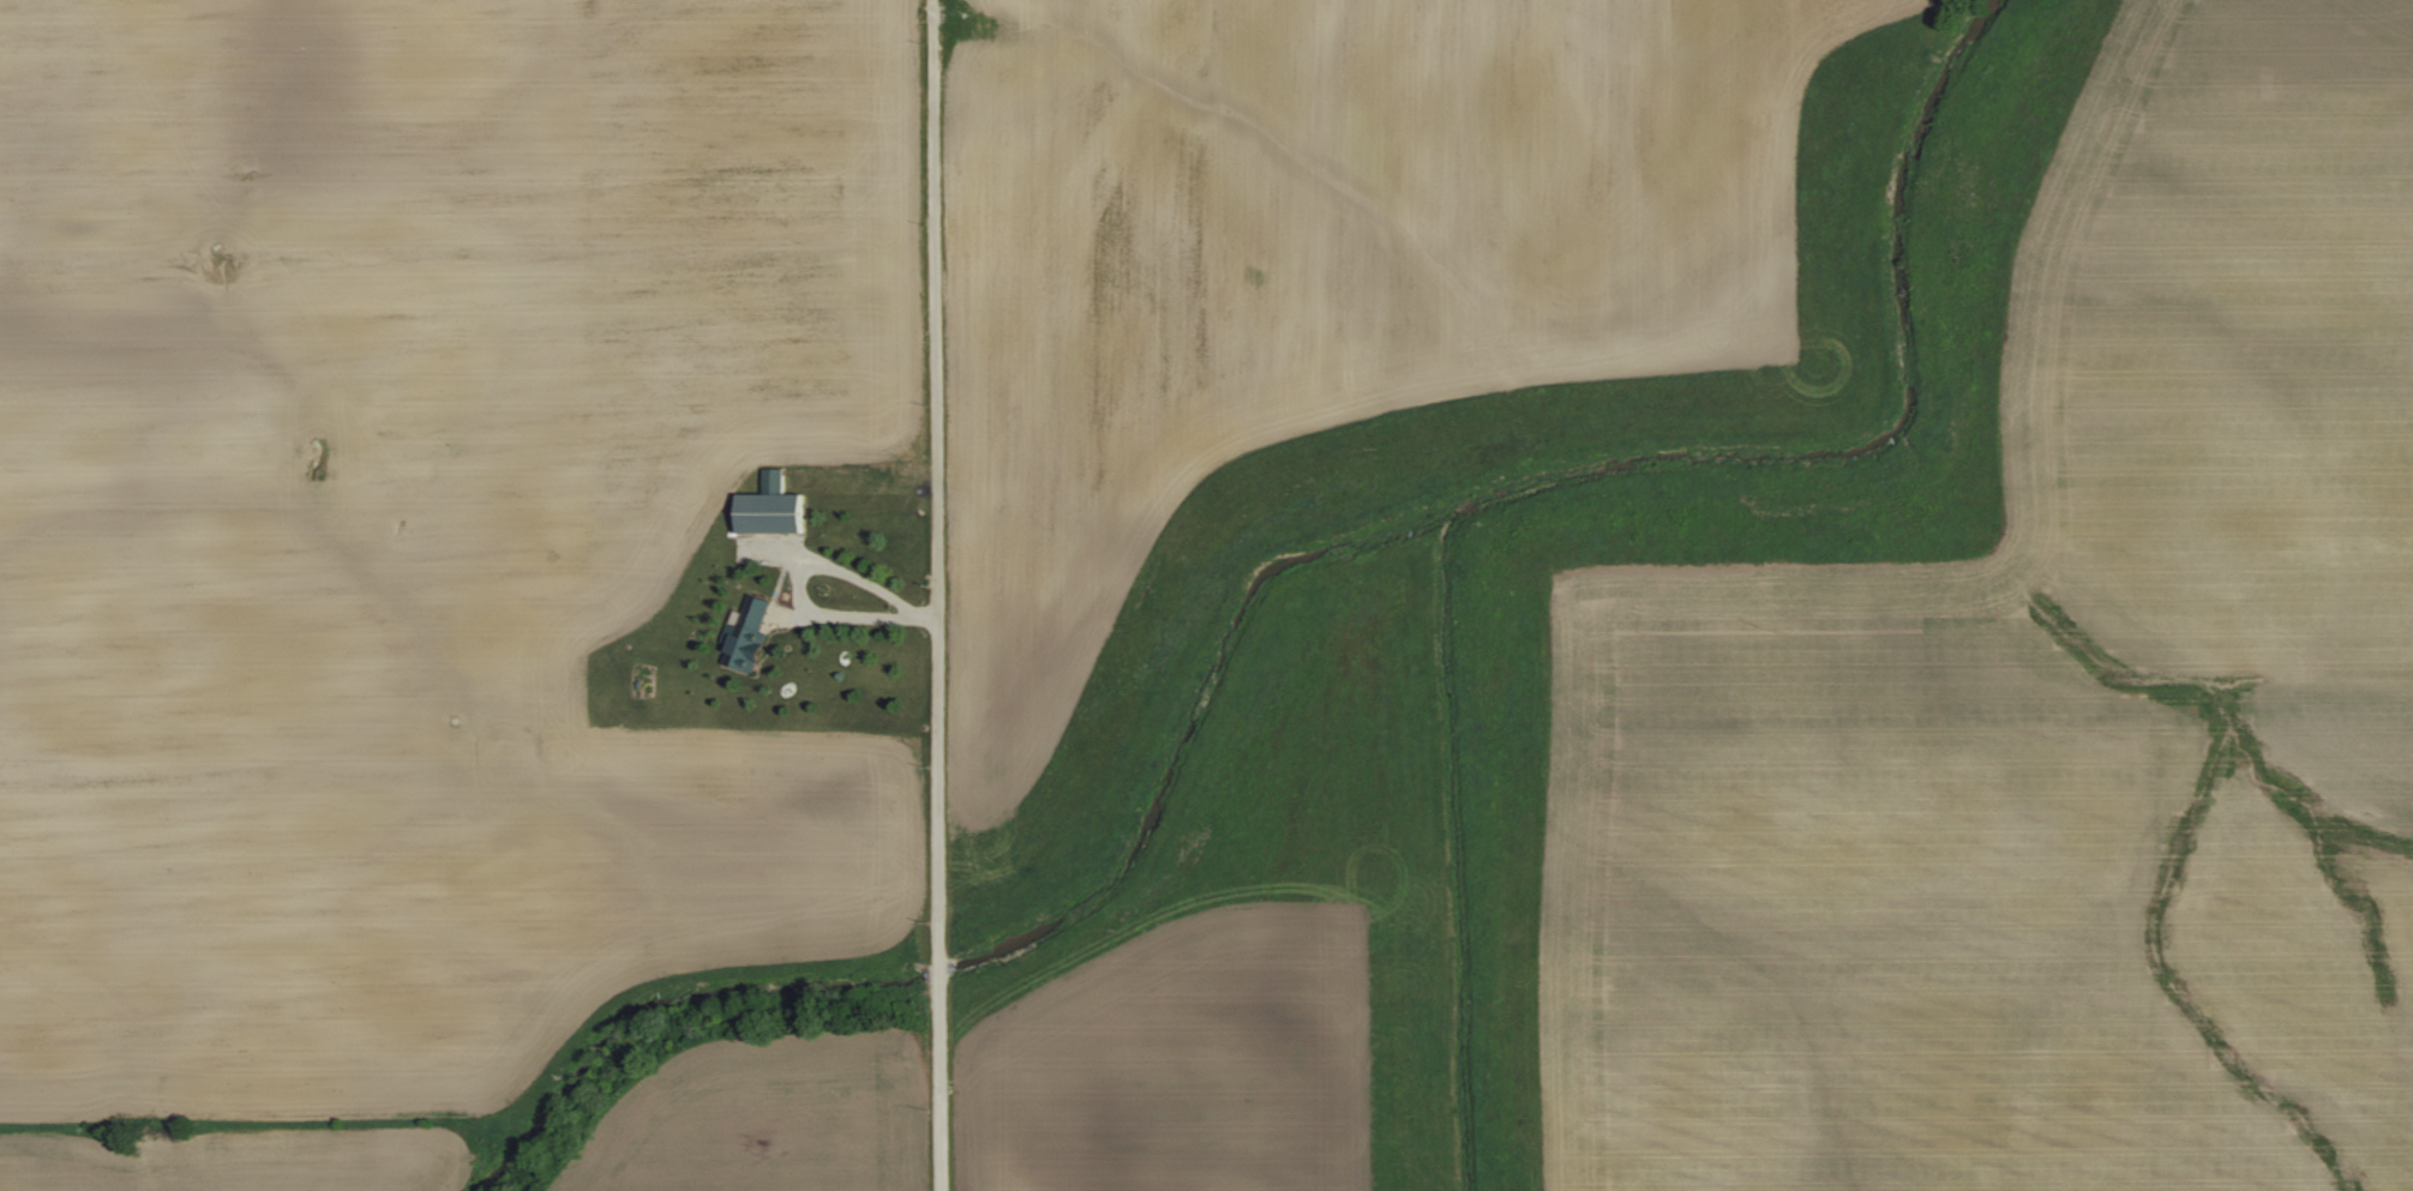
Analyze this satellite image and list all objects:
building: (778, 507)
road: (799, 593)
road: (938, 595)

